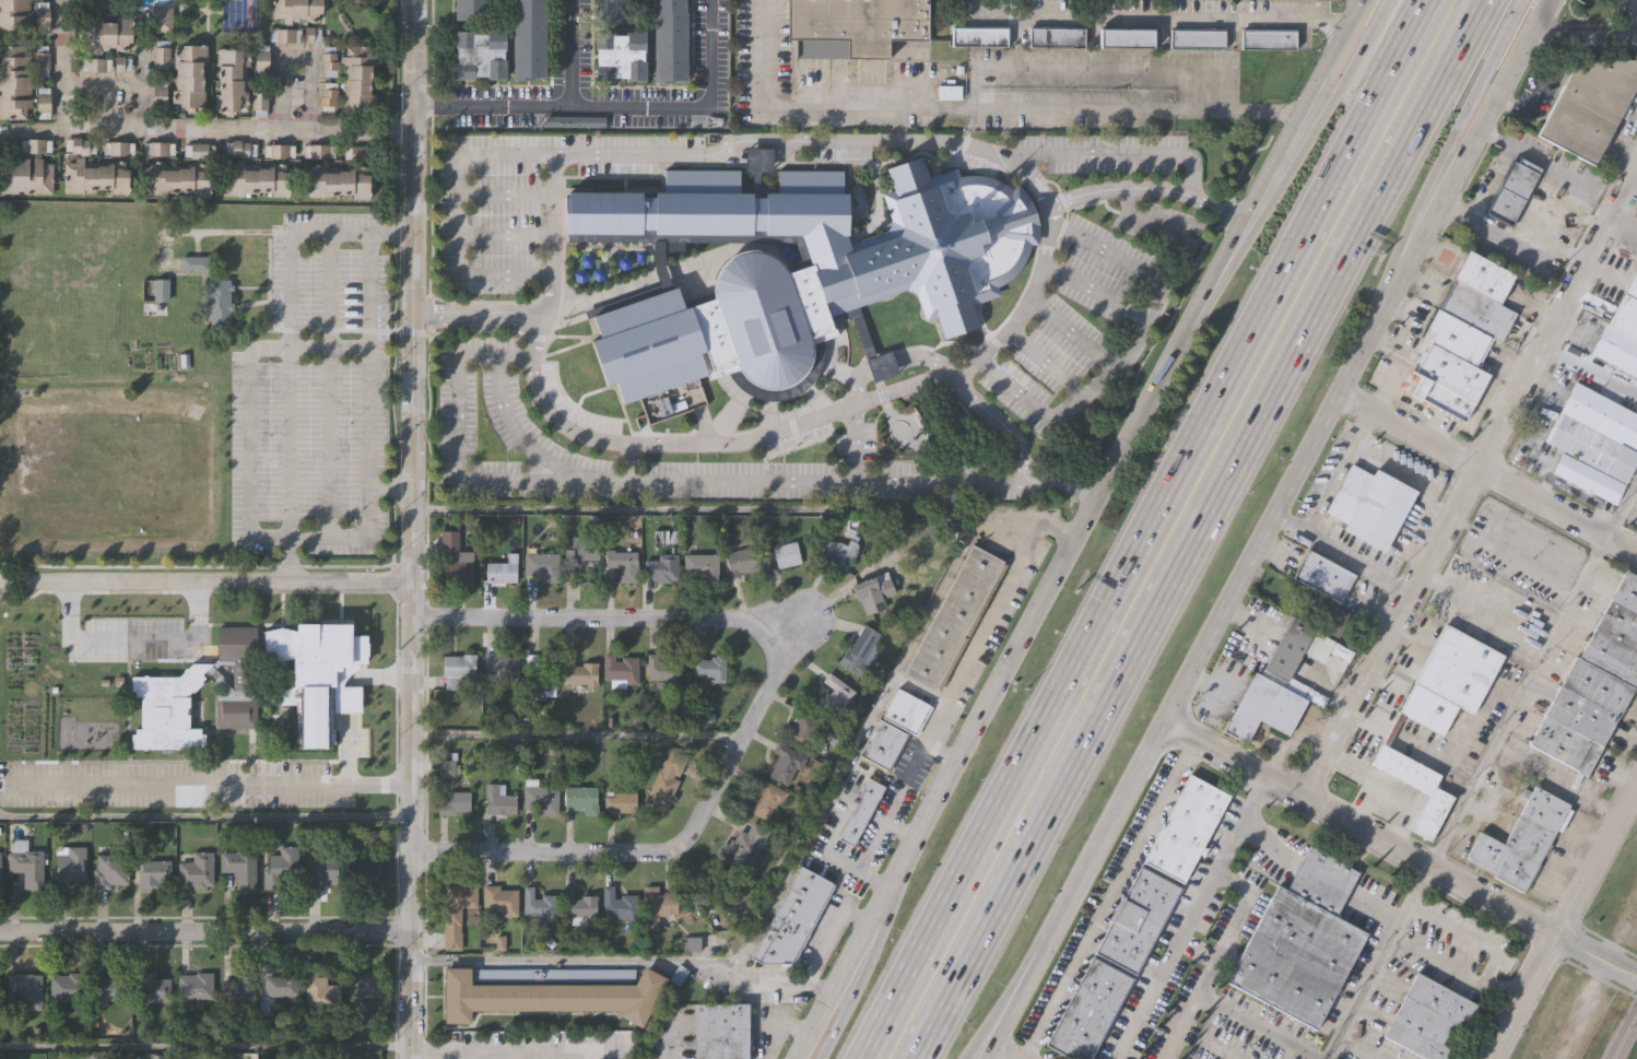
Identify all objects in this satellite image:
building: (110, 0)
building: (469, 8)
building: (297, 10)
building: (612, 10)
building: (12, 15)
building: (39, 16)
parking lot: (39, 16)
road: (1635, 17)
road: (1152, 19)
building: (158, 20)
building: (852, 26)
building: (106, 34)
road: (1591, 34)
building: (284, 35)
parking lot: (284, 35)
building: (980, 37)
building: (1058, 37)
building: (1128, 38)
building: (1197, 38)
building: (530, 39)
building: (1269, 39)
building: (671, 42)
road: (1363, 42)
building: (158, 55)
parking lot: (158, 55)
road: (295, 55)
building: (475, 56)
building: (620, 57)
building: (40, 60)
parking lot: (40, 60)
building: (262, 61)
parking lot: (262, 61)
building: (329, 61)
parking lot: (329, 61)
building: (96, 64)
parking lot: (96, 64)
road: (1079, 69)
road: (1483, 71)
building: (188, 77)
building: (233, 81)
building: (358, 81)
building: (13, 82)
road: (118, 82)
road: (1542, 83)
building: (156, 96)
parking lot: (156, 96)
building: (329, 97)
parking lot: (329, 97)
building: (260, 102)
parking lot: (260, 102)
building: (43, 103)
parking lot: (43, 103)
road: (492, 104)
building: (1591, 104)
road: (641, 106)
road: (975, 106)
building: (575, 120)
road: (172, 127)
road: (1485, 129)
road: (1621, 132)
road: (831, 140)
building: (37, 145)
building: (81, 146)
parking lot: (81, 146)
building: (119, 148)
parking lot: (119, 148)
building: (160, 148)
parking lot: (160, 148)
building: (239, 149)
parking lot: (239, 149)
building: (198, 150)
parking lot: (198, 150)
building: (279, 151)
parking lot: (279, 151)
building: (318, 151)
parking lot: (318, 151)
road: (1275, 151)
road: (1115, 152)
building: (358, 153)
parking lot: (358, 153)
road: (1535, 156)
building: (759, 160)
building: (26, 176)
building: (98, 176)
building: (177, 178)
building: (257, 178)
building: (340, 180)
building: (1387, 181)
road: (1145, 188)
building: (1512, 189)
road: (506, 193)
road: (1268, 193)
road: (1426, 201)
building: (754, 207)
road: (460, 210)
building: (606, 214)
road: (1149, 221)
road: (234, 231)
road: (506, 234)
road: (1511, 244)
building: (934, 246)
building: (195, 263)
building: (1485, 278)
road: (1096, 289)
building: (160, 293)
building: (217, 303)
building: (1479, 311)
road: (473, 317)
building: (761, 318)
road: (1371, 326)
building: (1620, 331)
road: (1072, 332)
building: (1456, 339)
building: (649, 345)
road: (329, 350)
road: (1132, 351)
road: (252, 353)
road: (1045, 363)
building: (882, 365)
building: (1444, 381)
road: (329, 386)
parking lot: (314, 395)
road: (366, 423)
road: (522, 435)
building: (1595, 442)
road: (290, 444)
road: (855, 444)
road: (700, 445)
road: (1017, 452)
road: (1487, 470)
road: (1340, 472)
road: (1413, 476)
road: (643, 480)
road: (1472, 483)
road: (386, 487)
building: (1369, 504)
road: (405, 529)
road: (1143, 529)
road: (1164, 529)
road: (1175, 529)
road: (1201, 529)
road: (1485, 532)
road: (1408, 538)
building: (580, 551)
building: (838, 552)
building: (784, 553)
road: (1342, 554)
building: (455, 558)
building: (741, 561)
building: (541, 563)
building: (623, 564)
building: (700, 568)
building: (503, 569)
building: (661, 569)
building: (1323, 574)
road: (202, 581)
building: (869, 593)
road: (931, 600)
road: (1037, 616)
building: (956, 617)
building: (1335, 622)
road: (984, 627)
road: (132, 637)
building: (281, 643)
building: (1296, 647)
building: (860, 649)
building: (330, 663)
building: (500, 667)
building: (709, 667)
building: (664, 668)
road: (385, 669)
building: (621, 669)
building: (458, 670)
building: (579, 672)
road: (1405, 672)
building: (539, 674)
road: (1188, 681)
building: (166, 682)
road: (1382, 682)
building: (1593, 683)
building: (834, 697)
road: (757, 705)
building: (1263, 707)
building: (906, 709)
building: (309, 713)
building: (1435, 714)
road: (1361, 722)
road: (1382, 728)
building: (802, 729)
road: (863, 729)
road: (1389, 731)
road: (573, 736)
road: (1463, 743)
building: (882, 744)
road: (1237, 754)
road: (1341, 761)
building: (787, 762)
road: (1483, 769)
building: (666, 780)
road: (209, 784)
road: (1380, 784)
building: (542, 798)
building: (581, 798)
building: (766, 798)
building: (499, 800)
road: (1365, 800)
building: (455, 802)
building: (620, 802)
building: (862, 810)
road: (202, 817)
road: (1241, 822)
building: (1187, 825)
building: (1520, 839)
building: (744, 845)
road: (872, 849)
building: (26, 863)
road: (788, 863)
building: (69, 867)
building: (238, 867)
building: (281, 867)
building: (0, 871)
building: (109, 871)
building: (196, 871)
building: (323, 871)
building: (366, 871)
building: (152, 873)
road: (1223, 875)
road: (1470, 884)
road: (1111, 895)
building: (500, 899)
building: (540, 905)
building: (620, 905)
building: (579, 906)
building: (658, 906)
building: (458, 911)
building: (1138, 917)
building: (793, 919)
road: (1563, 919)
road: (202, 926)
road: (1469, 937)
building: (1299, 940)
road: (823, 945)
road: (847, 958)
road: (608, 960)
road: (855, 965)
road: (1456, 970)
building: (193, 985)
building: (108, 986)
building: (283, 986)
building: (366, 986)
building: (237, 987)
building: (66, 988)
building: (150, 988)
building: (25, 989)
building: (550, 991)
building: (0, 992)
building: (321, 993)
building: (1090, 1010)
road: (1009, 1012)
road: (1001, 1013)
building: (1427, 1017)
road: (812, 1026)
road: (785, 1027)
railway: (1621, 1029)
building: (719, 1031)
road: (1268, 1032)
road: (831, 1034)
railway: (1627, 1040)
road: (669, 1042)
road: (1205, 1044)
road: (1359, 1048)
road: (201, 1049)
road: (427, 1049)
road: (537, 1052)
road: (996, 1055)

